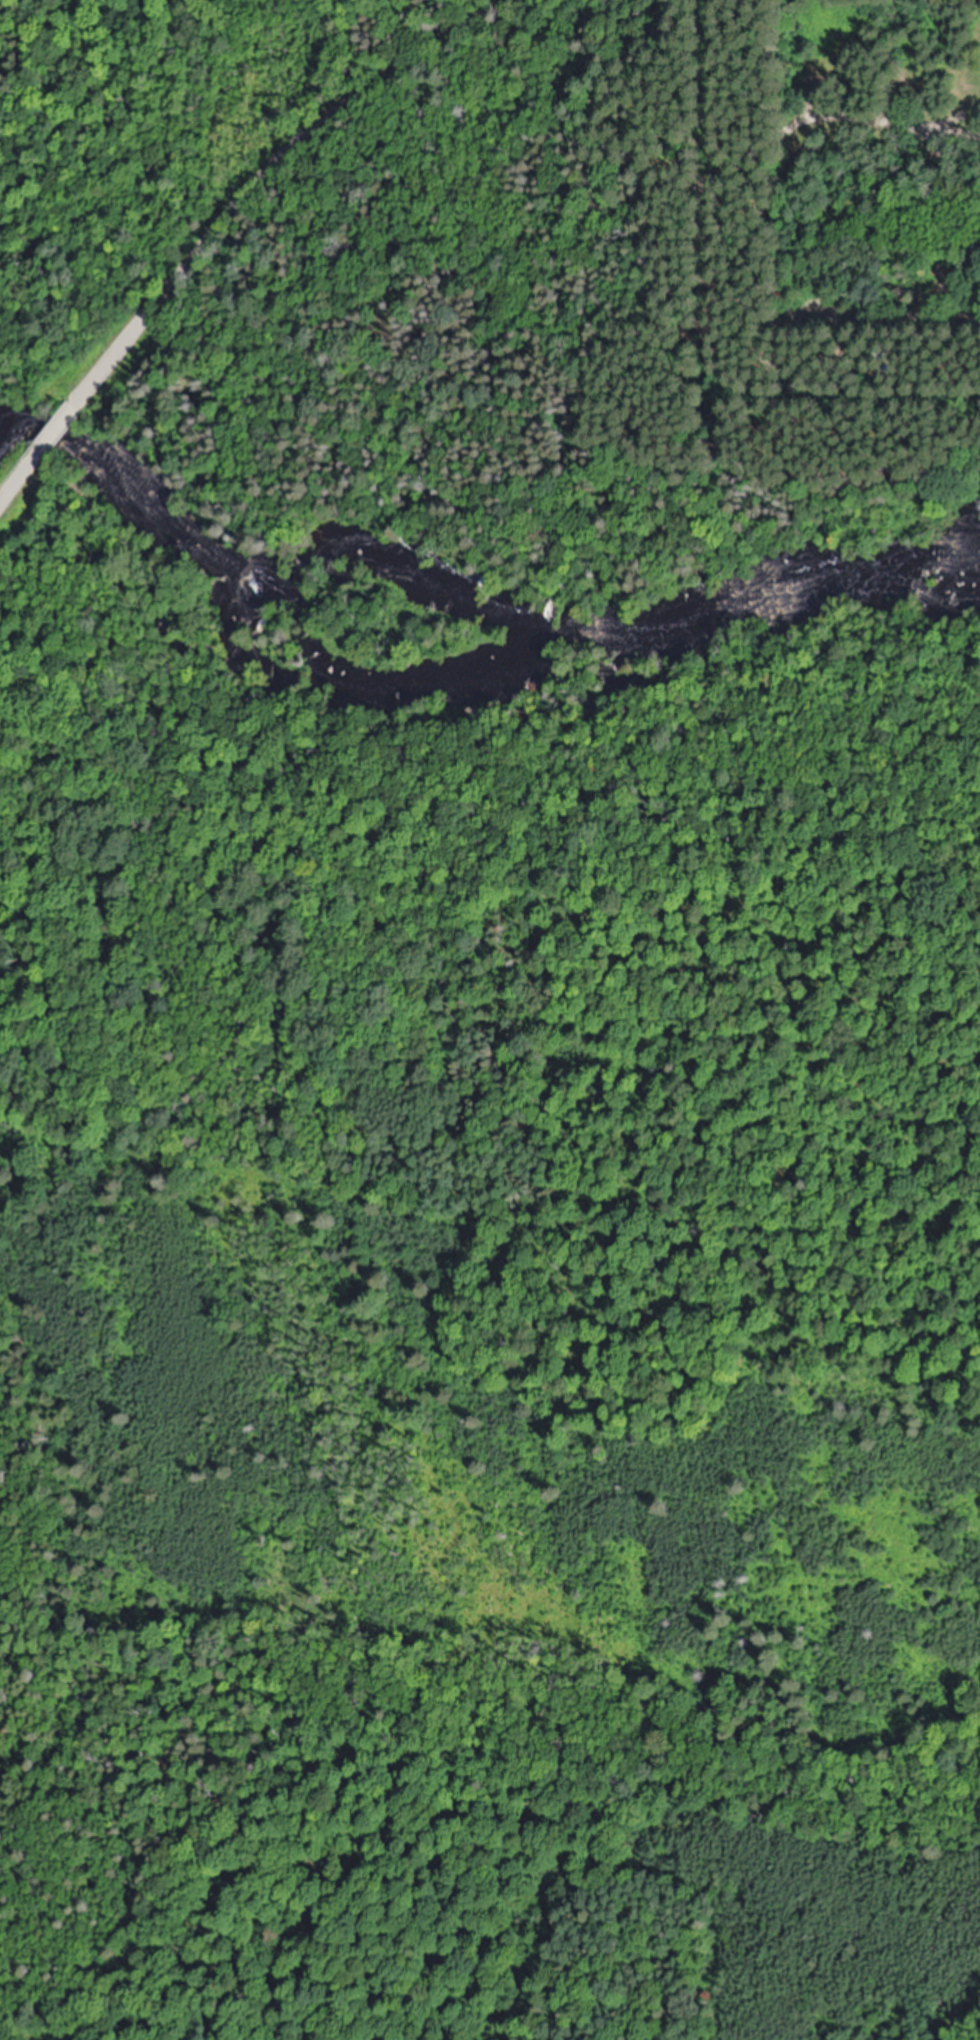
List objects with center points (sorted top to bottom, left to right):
road: (709, 97)
road: (734, 164)
road: (267, 170)
road: (839, 316)
road: (863, 401)
road: (59, 428)
park: (855, 431)
road: (21, 479)
river: (455, 596)

